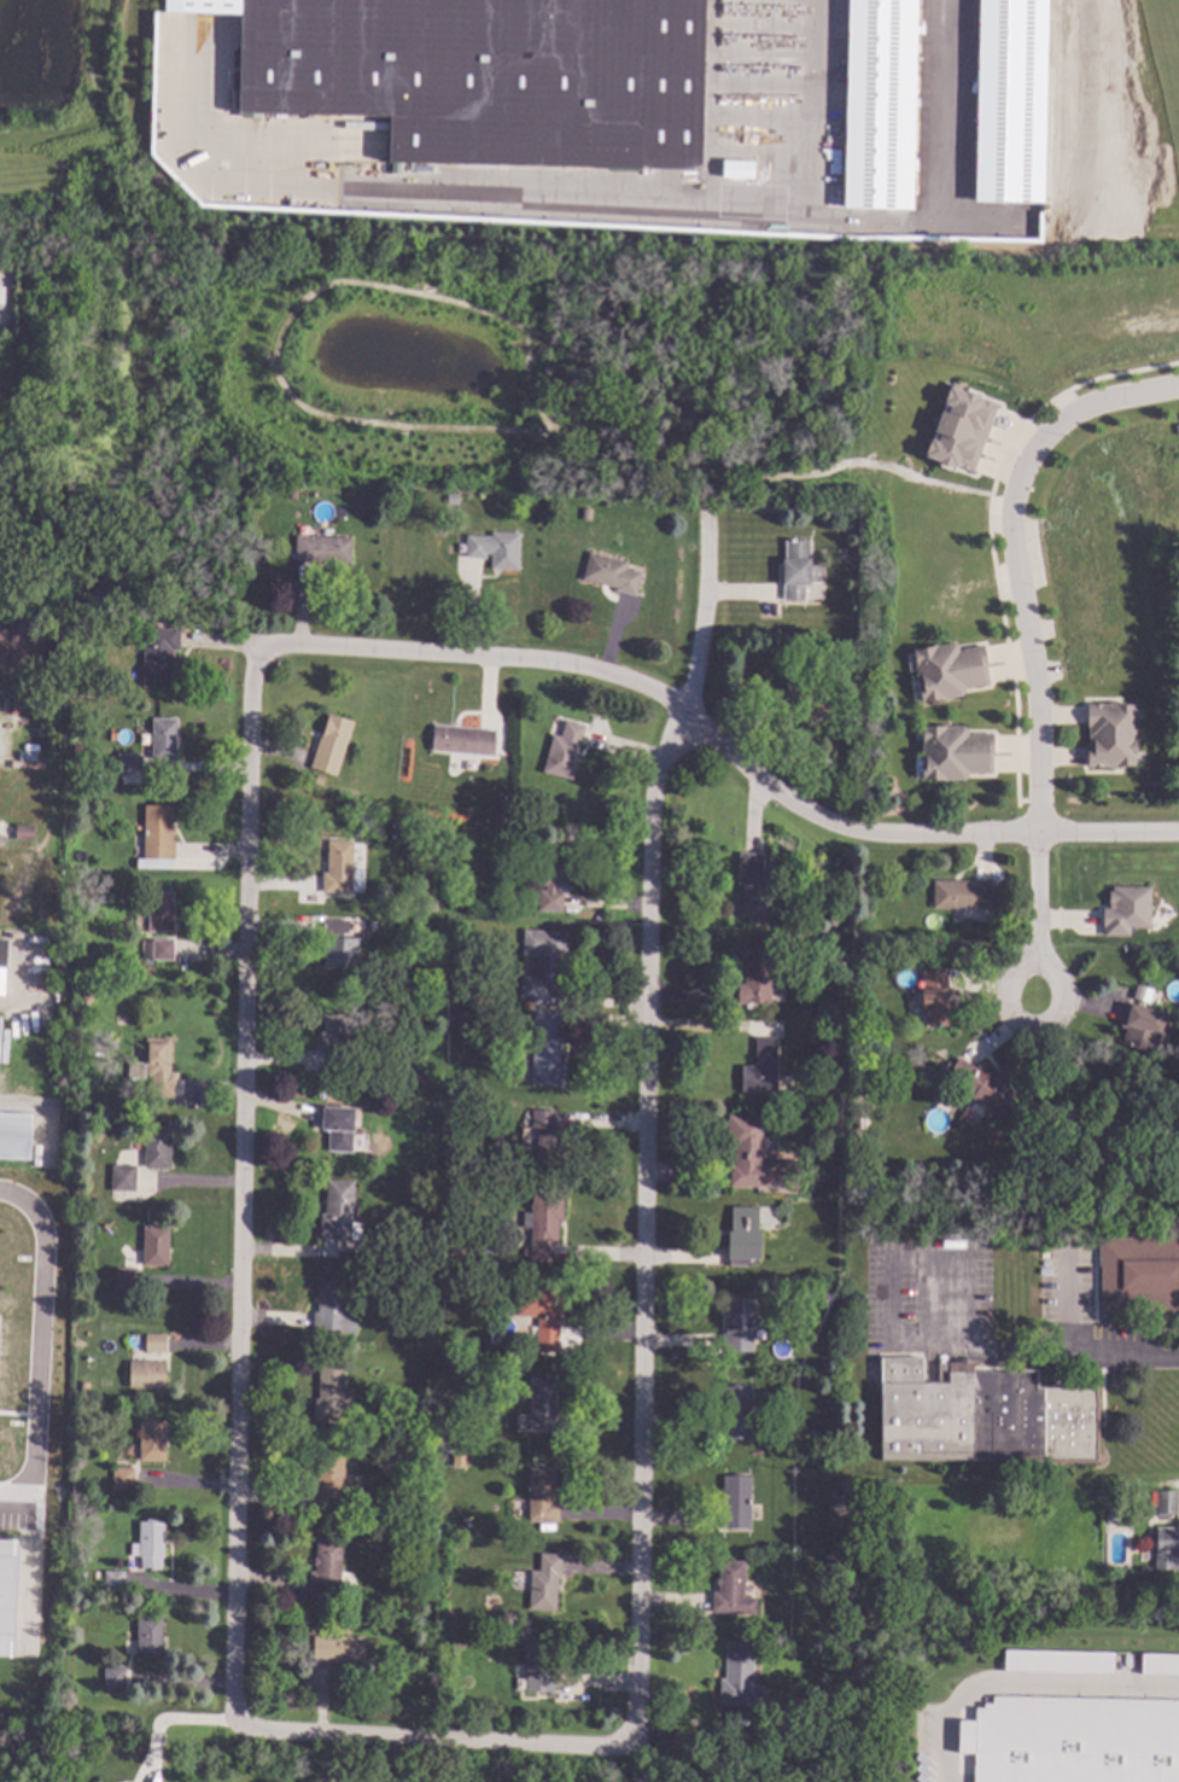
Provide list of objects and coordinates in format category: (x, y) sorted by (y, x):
building: (483, 74)
building: (879, 104)
road: (526, 383)
road: (367, 424)
building: (1175, 427)
building: (958, 432)
building: (291, 493)
building: (450, 499)
building: (584, 513)
building: (844, 524)
road: (987, 535)
building: (321, 548)
building: (494, 548)
road: (1011, 558)
building: (796, 569)
building: (608, 572)
building: (104, 623)
building: (19, 646)
building: (836, 646)
building: (156, 654)
building: (946, 669)
building: (807, 692)
building: (1108, 733)
building: (162, 738)
building: (462, 739)
building: (329, 744)
road: (719, 746)
building: (76, 749)
building: (562, 750)
building: (951, 751)
building: (127, 763)
building: (316, 780)
building: (532, 810)
building: (497, 817)
building: (22, 832)
building: (156, 832)
building: (338, 868)
building: (551, 877)
building: (752, 886)
building: (959, 893)
building: (529, 898)
building: (428, 905)
building: (158, 910)
building: (860, 912)
building: (1125, 913)
road: (1029, 919)
building: (352, 922)
building: (370, 924)
building: (337, 943)
building: (156, 949)
building: (1, 962)
building: (541, 962)
building: (753, 974)
road: (23, 985)
building: (933, 997)
building: (836, 1008)
building: (461, 1017)
building: (1139, 1025)
building: (338, 1037)
building: (544, 1049)
building: (157, 1066)
building: (759, 1067)
building: (135, 1071)
building: (979, 1085)
building: (836, 1099)
building: (432, 1101)
building: (857, 1112)
building: (831, 1120)
road: (646, 1125)
building: (1066, 1125)
building: (337, 1126)
building: (14, 1135)
building: (545, 1138)
building: (154, 1147)
building: (1111, 1147)
building: (754, 1157)
building: (372, 1158)
building: (122, 1177)
road: (235, 1183)
building: (334, 1210)
building: (541, 1223)
building: (741, 1235)
building: (153, 1245)
building: (455, 1252)
building: (485, 1254)
road: (899, 1260)
building: (1138, 1273)
building: (446, 1274)
building: (123, 1277)
building: (454, 1295)
building: (328, 1305)
building: (539, 1309)
road: (1064, 1311)
building: (830, 1312)
building: (736, 1324)
building: (453, 1335)
building: (153, 1343)
road: (45, 1346)
road: (1066, 1358)
building: (144, 1374)
building: (328, 1392)
building: (428, 1397)
building: (538, 1407)
building: (734, 1411)
building: (979, 1415)
building: (150, 1439)
building: (463, 1456)
building: (398, 1457)
building: (119, 1477)
building: (828, 1477)
building: (329, 1483)
building: (539, 1495)
building: (734, 1502)
building: (1163, 1502)
building: (147, 1543)
building: (446, 1544)
building: (1163, 1548)
building: (326, 1566)
building: (80, 1577)
building: (111, 1579)
building: (542, 1582)
building: (730, 1589)
building: (6, 1592)
building: (384, 1612)
building: (821, 1625)
building: (383, 1626)
building: (147, 1636)
building: (456, 1642)
building: (335, 1647)
building: (1055, 1664)
building: (1158, 1666)
building: (536, 1667)
building: (111, 1676)
building: (737, 1676)
road: (165, 1719)
building: (758, 1719)
road: (427, 1739)
building: (1072, 1741)

